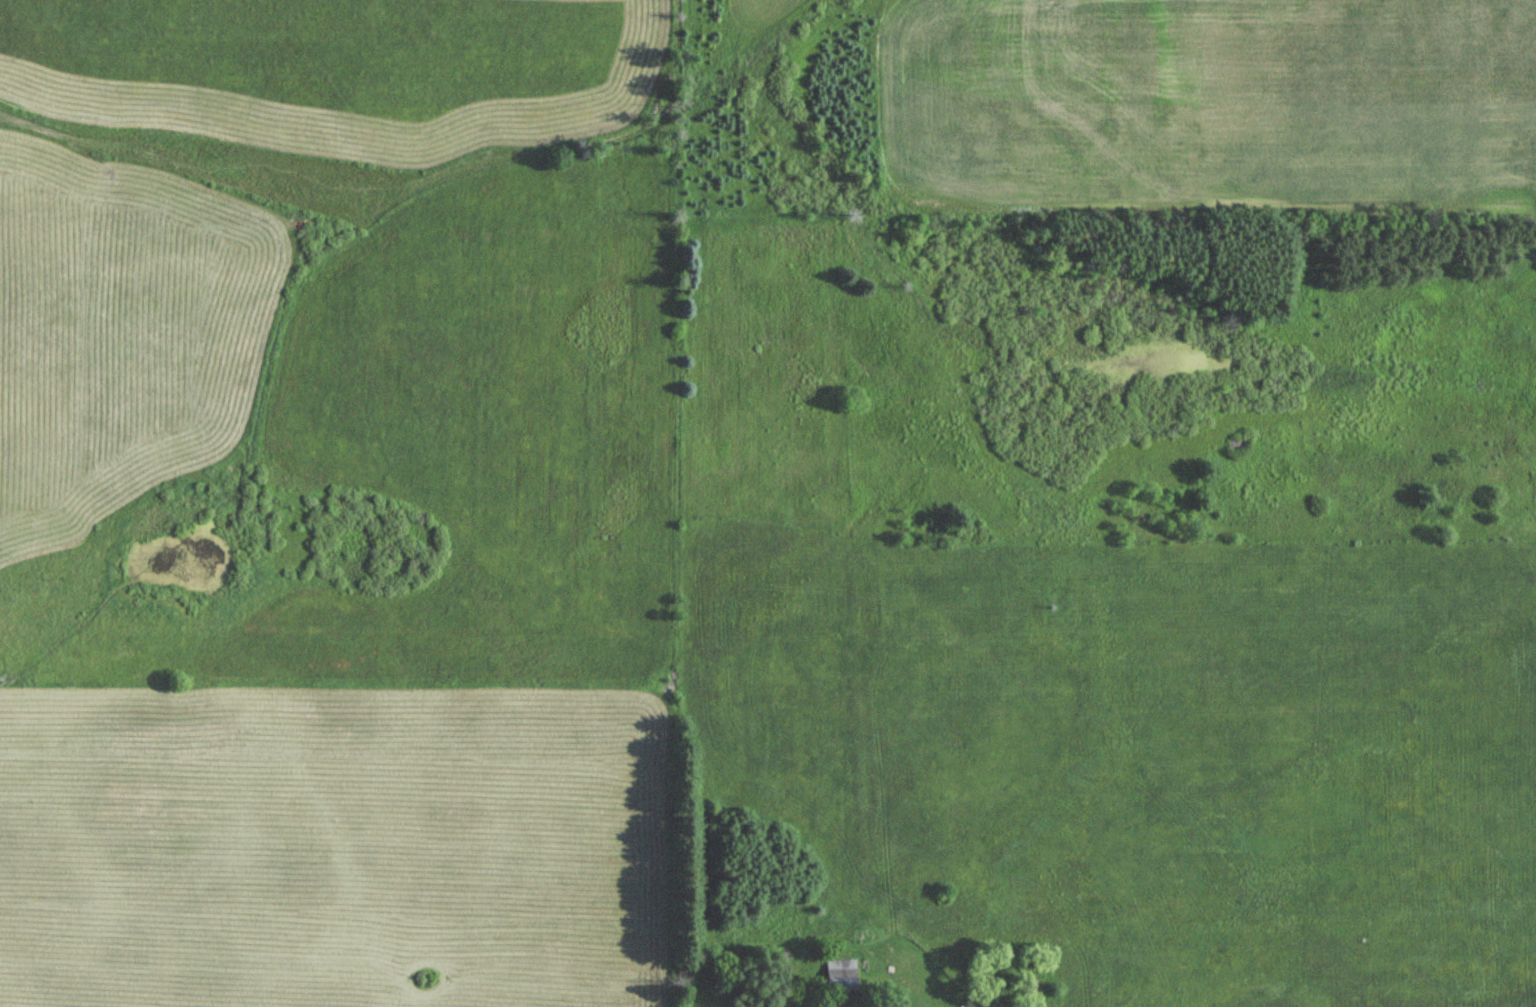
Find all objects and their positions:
building: (839, 975)

